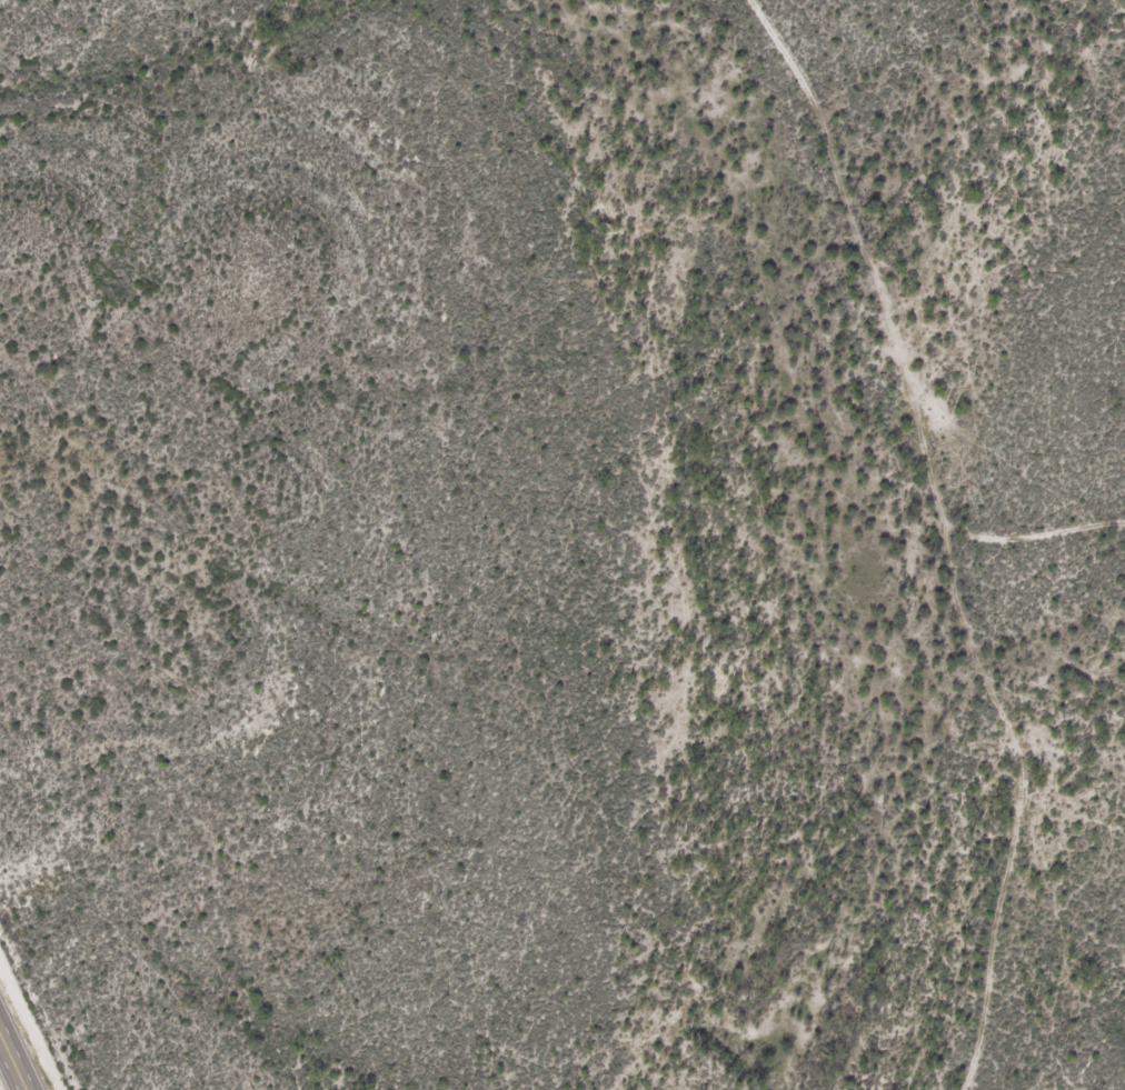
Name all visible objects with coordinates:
road: (900, 338)
road: (16, 1056)

